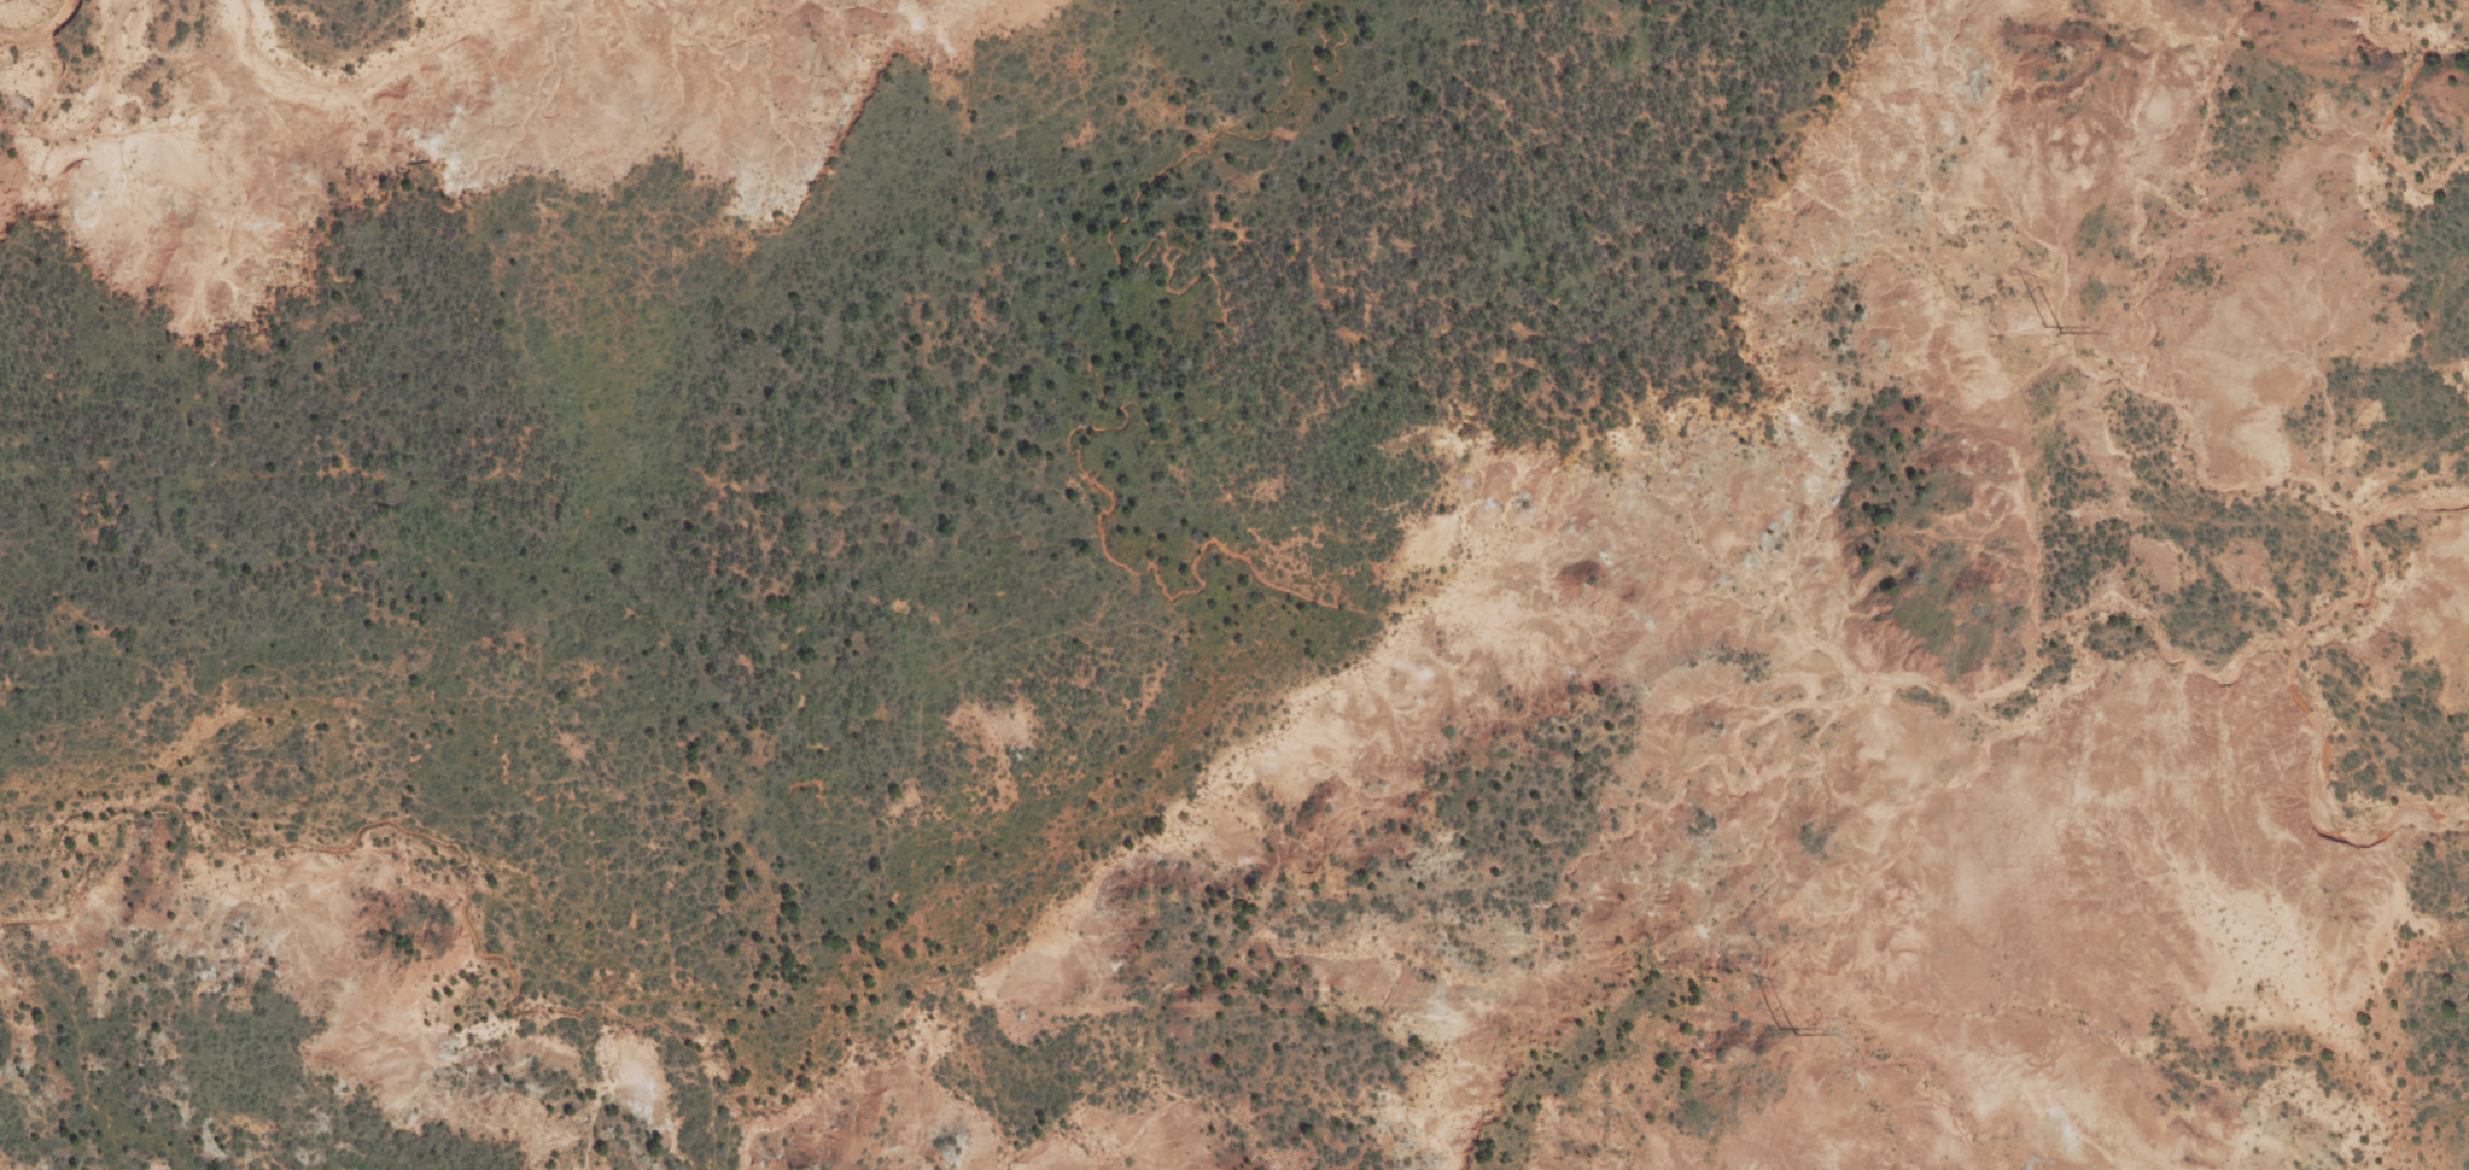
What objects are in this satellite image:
power tower: (2051, 329)
power tower: (1785, 1031)

